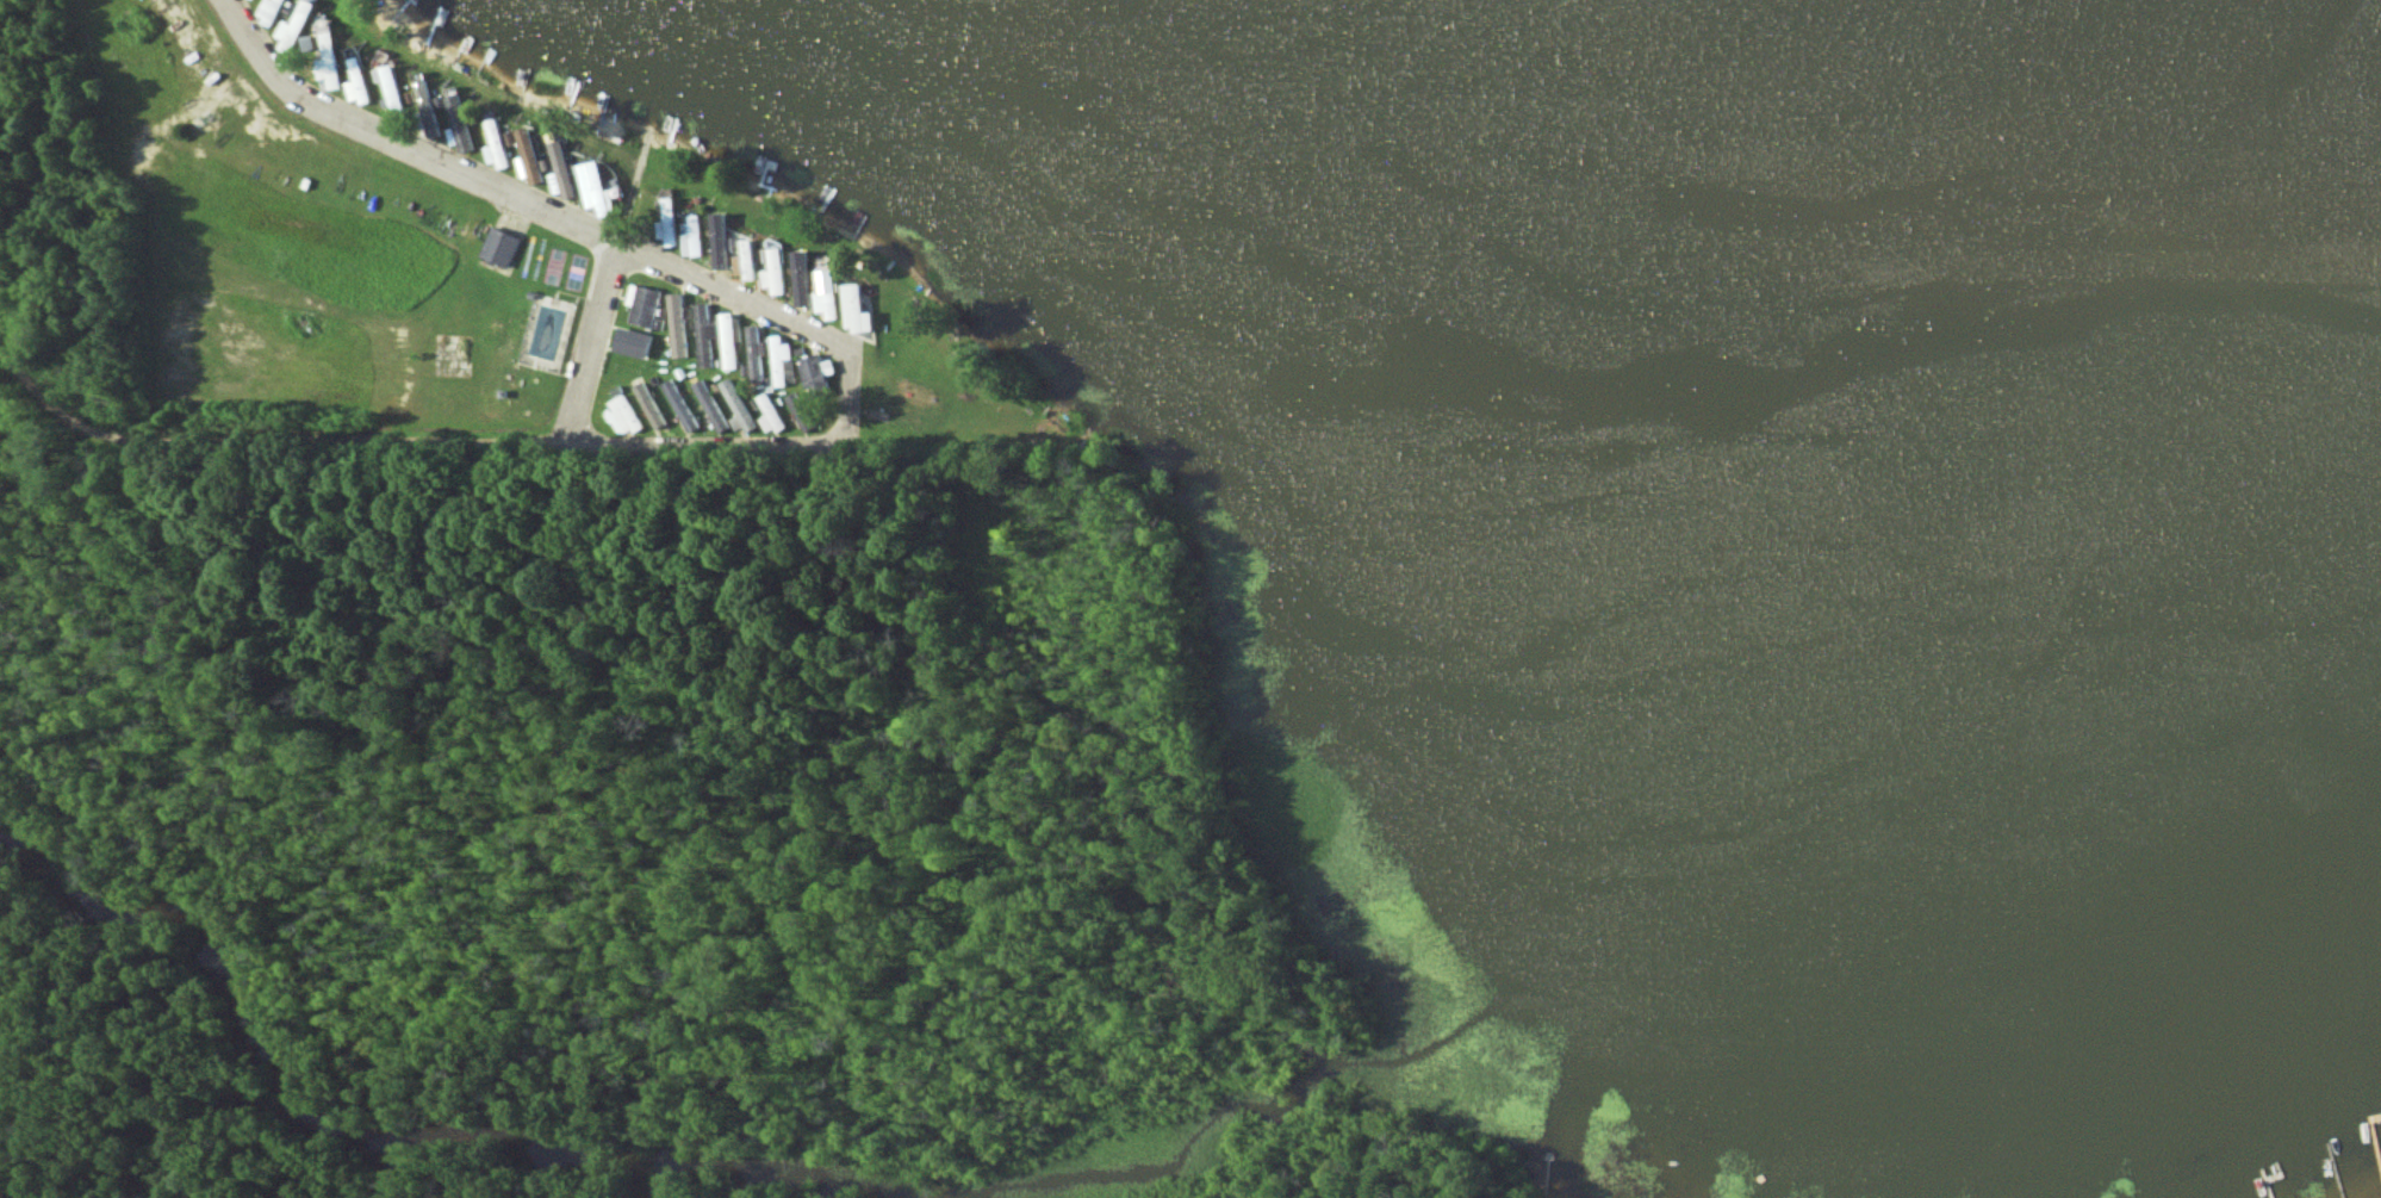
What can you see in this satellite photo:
building: (296, 27)
building: (330, 45)
building: (331, 75)
road: (282, 79)
building: (359, 82)
building: (393, 91)
building: (424, 97)
building: (461, 124)
building: (498, 145)
building: (533, 159)
building: (566, 172)
building: (601, 188)
building: (671, 210)
building: (695, 237)
building: (720, 241)
building: (502, 246)
road: (642, 255)
building: (747, 261)
building: (777, 272)
building: (802, 279)
building: (829, 294)
building: (647, 305)
building: (858, 309)
building: (678, 325)
building: (729, 341)
building: (635, 342)
road: (590, 344)
building: (752, 353)
building: (781, 359)
building: (649, 405)
building: (680, 405)
building: (713, 409)
building: (738, 409)
building: (770, 414)
building: (624, 415)
road: (409, 439)

